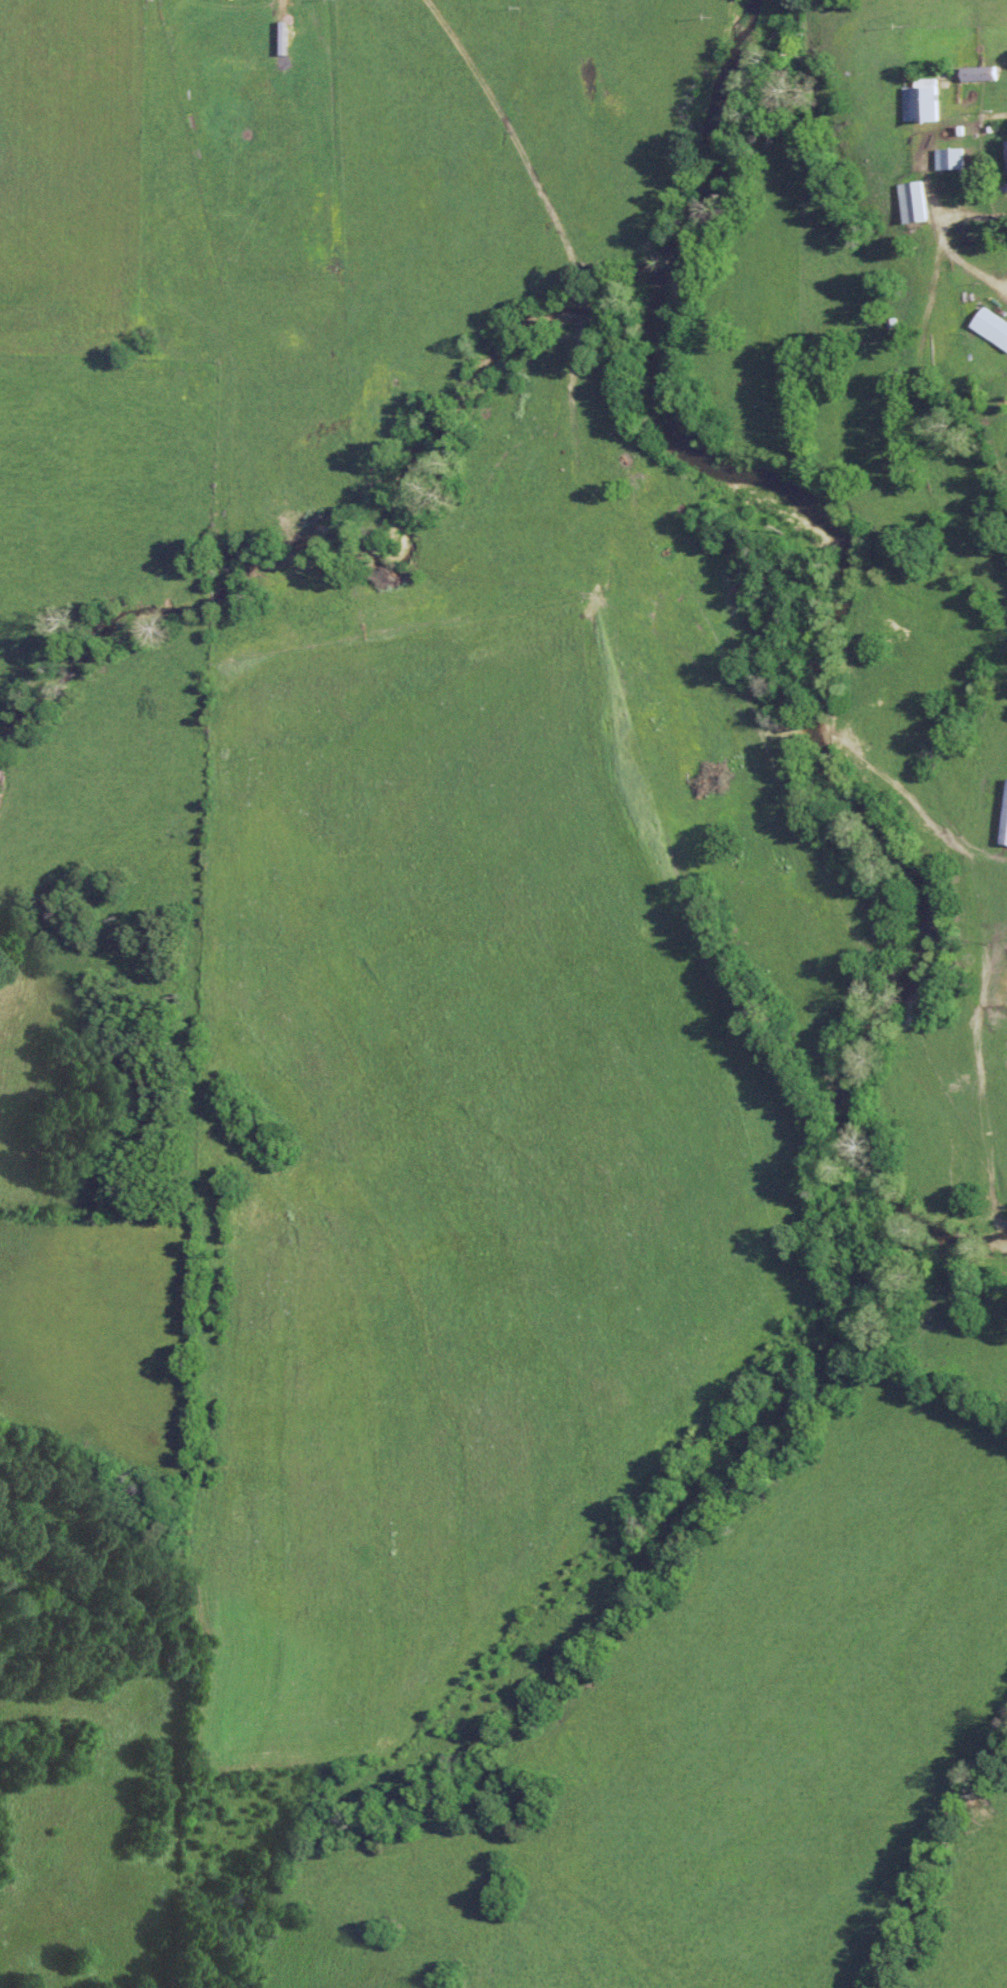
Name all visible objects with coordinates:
building: (979, 73)
building: (921, 100)
building: (949, 157)
building: (1006, 164)
building: (913, 201)
building: (992, 327)
building: (387, 606)
building: (1005, 829)

